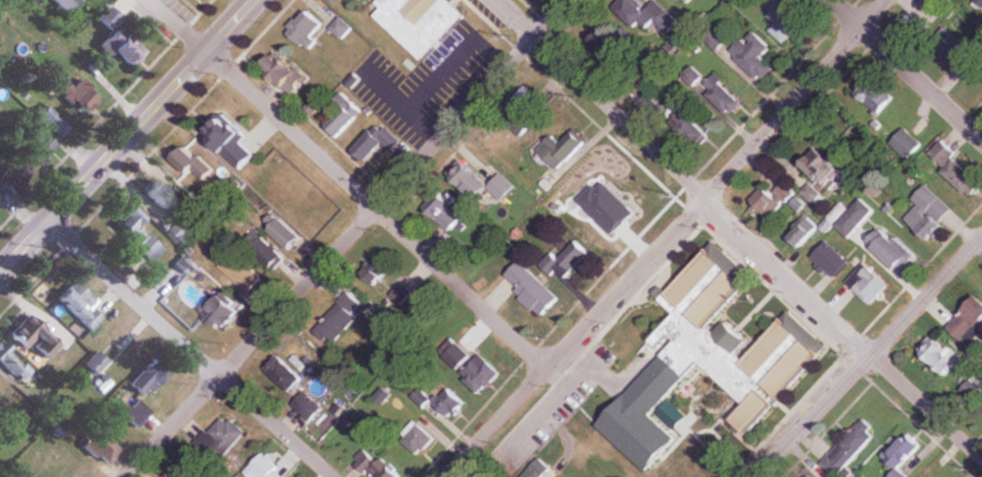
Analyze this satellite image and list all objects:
building: (676, 0)
building: (965, 0)
building: (35, 1)
building: (67, 4)
building: (648, 16)
building: (111, 18)
building: (785, 21)
building: (421, 22)
road: (174, 25)
building: (343, 29)
building: (307, 30)
building: (614, 45)
building: (123, 47)
building: (754, 56)
building: (969, 57)
road: (905, 71)
building: (286, 72)
building: (723, 95)
building: (82, 96)
building: (876, 96)
building: (344, 116)
building: (55, 122)
building: (687, 122)
road: (289, 130)
road: (125, 136)
building: (233, 143)
building: (377, 144)
building: (907, 145)
building: (39, 147)
building: (562, 150)
building: (198, 165)
building: (825, 168)
building: (955, 168)
building: (16, 176)
building: (484, 185)
building: (814, 195)
building: (168, 201)
building: (767, 203)
building: (929, 213)
building: (446, 218)
building: (854, 219)
road: (738, 230)
building: (804, 232)
building: (139, 233)
building: (187, 235)
building: (287, 236)
road: (348, 237)
road: (666, 238)
building: (267, 251)
building: (891, 251)
building: (828, 259)
building: (565, 261)
building: (187, 265)
building: (246, 273)
building: (868, 285)
building: (532, 289)
road: (459, 290)
building: (400, 296)
building: (82, 305)
building: (226, 312)
building: (342, 319)
building: (968, 322)
building: (36, 337)
building: (734, 342)
road: (188, 349)
building: (939, 354)
road: (870, 356)
building: (15, 363)
building: (97, 363)
building: (477, 373)
building: (286, 375)
building: (149, 378)
building: (421, 400)
building: (448, 404)
building: (308, 407)
building: (136, 413)
building: (595, 414)
building: (222, 439)
building: (418, 442)
building: (100, 449)
building: (849, 449)
building: (903, 454)
building: (372, 465)
building: (263, 467)
building: (191, 468)
building: (809, 476)

